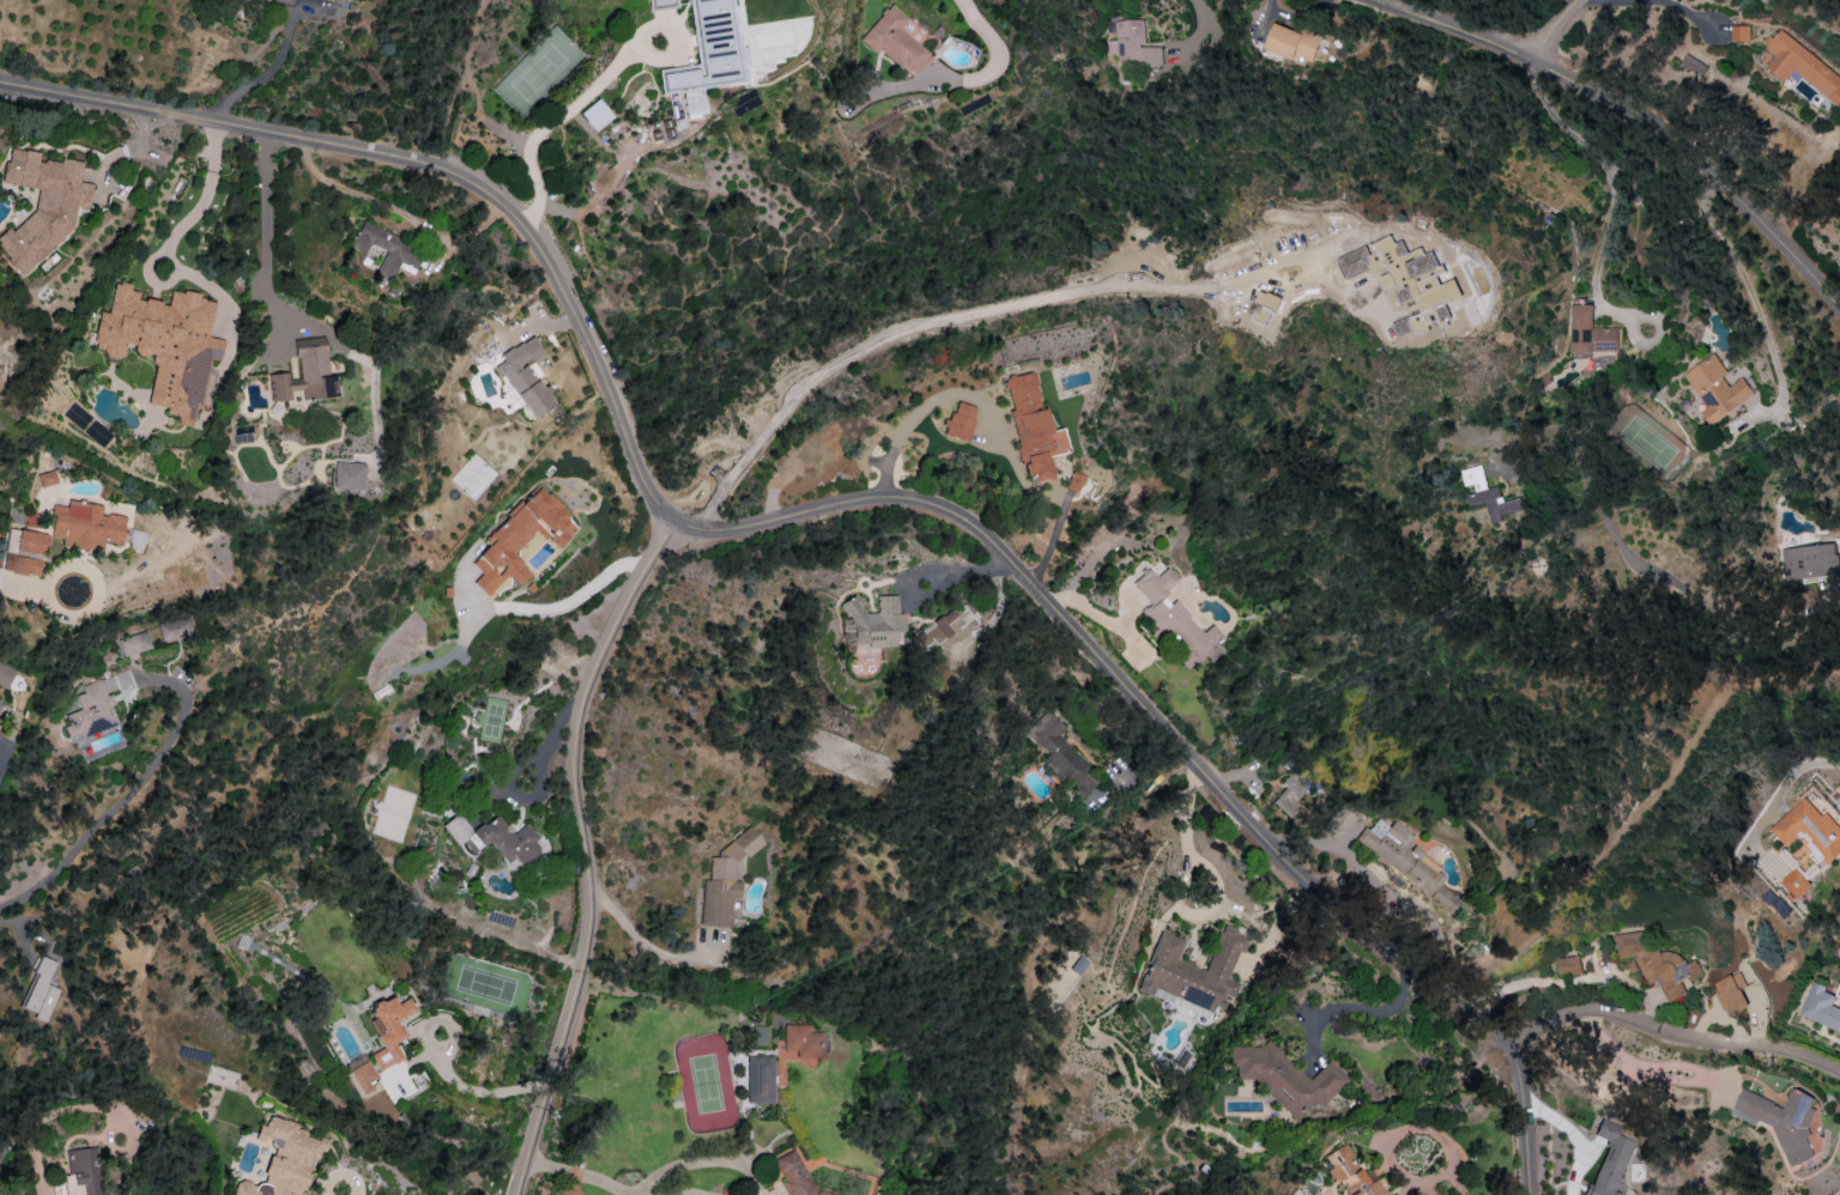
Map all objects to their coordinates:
building: (258, 0)
building: (286, 0)
road: (1657, 1)
building: (661, 4)
road: (1199, 32)
road: (1557, 34)
building: (1741, 34)
building: (896, 41)
building: (1293, 42)
building: (1133, 51)
building: (708, 55)
building: (1693, 63)
building: (1802, 66)
road: (267, 71)
road: (975, 77)
building: (595, 114)
road: (1627, 116)
road: (551, 122)
building: (667, 128)
road: (1602, 163)
building: (42, 205)
road: (265, 238)
building: (386, 248)
building: (1406, 275)
road: (1754, 299)
road: (946, 314)
building: (1591, 332)
building: (163, 344)
building: (525, 376)
building: (304, 377)
building: (1717, 388)
road: (921, 408)
building: (961, 420)
building: (1033, 429)
building: (349, 475)
building: (47, 478)
building: (1073, 481)
building: (1489, 495)
road: (841, 504)
building: (85, 524)
building: (519, 539)
building: (25, 541)
building: (1810, 562)
building: (22, 564)
road: (22, 584)
road: (1827, 597)
building: (1175, 618)
building: (944, 621)
building: (871, 623)
building: (174, 629)
building: (134, 644)
building: (0, 704)
building: (90, 711)
building: (1060, 753)
road: (1811, 764)
road: (135, 787)
building: (1287, 799)
building: (1337, 821)
building: (1812, 827)
road: (1185, 836)
building: (494, 838)
road: (586, 849)
building: (1402, 857)
building: (725, 879)
building: (1797, 882)
road: (643, 944)
road: (1040, 952)
road: (1393, 958)
building: (1658, 963)
building: (1570, 965)
building: (1193, 970)
road: (1592, 979)
building: (40, 990)
building: (1730, 994)
building: (1821, 1007)
building: (388, 1029)
building: (759, 1035)
road: (1673, 1035)
road: (1646, 1072)
building: (363, 1075)
building: (1284, 1076)
building: (759, 1079)
road: (476, 1090)
building: (1782, 1120)
road: (47, 1148)
building: (285, 1159)
building: (1609, 1160)
building: (85, 1170)
road: (583, 1173)
building: (792, 1173)
building: (1350, 1173)
building: (570, 1189)
road: (343, 1191)
building: (1445, 1194)

